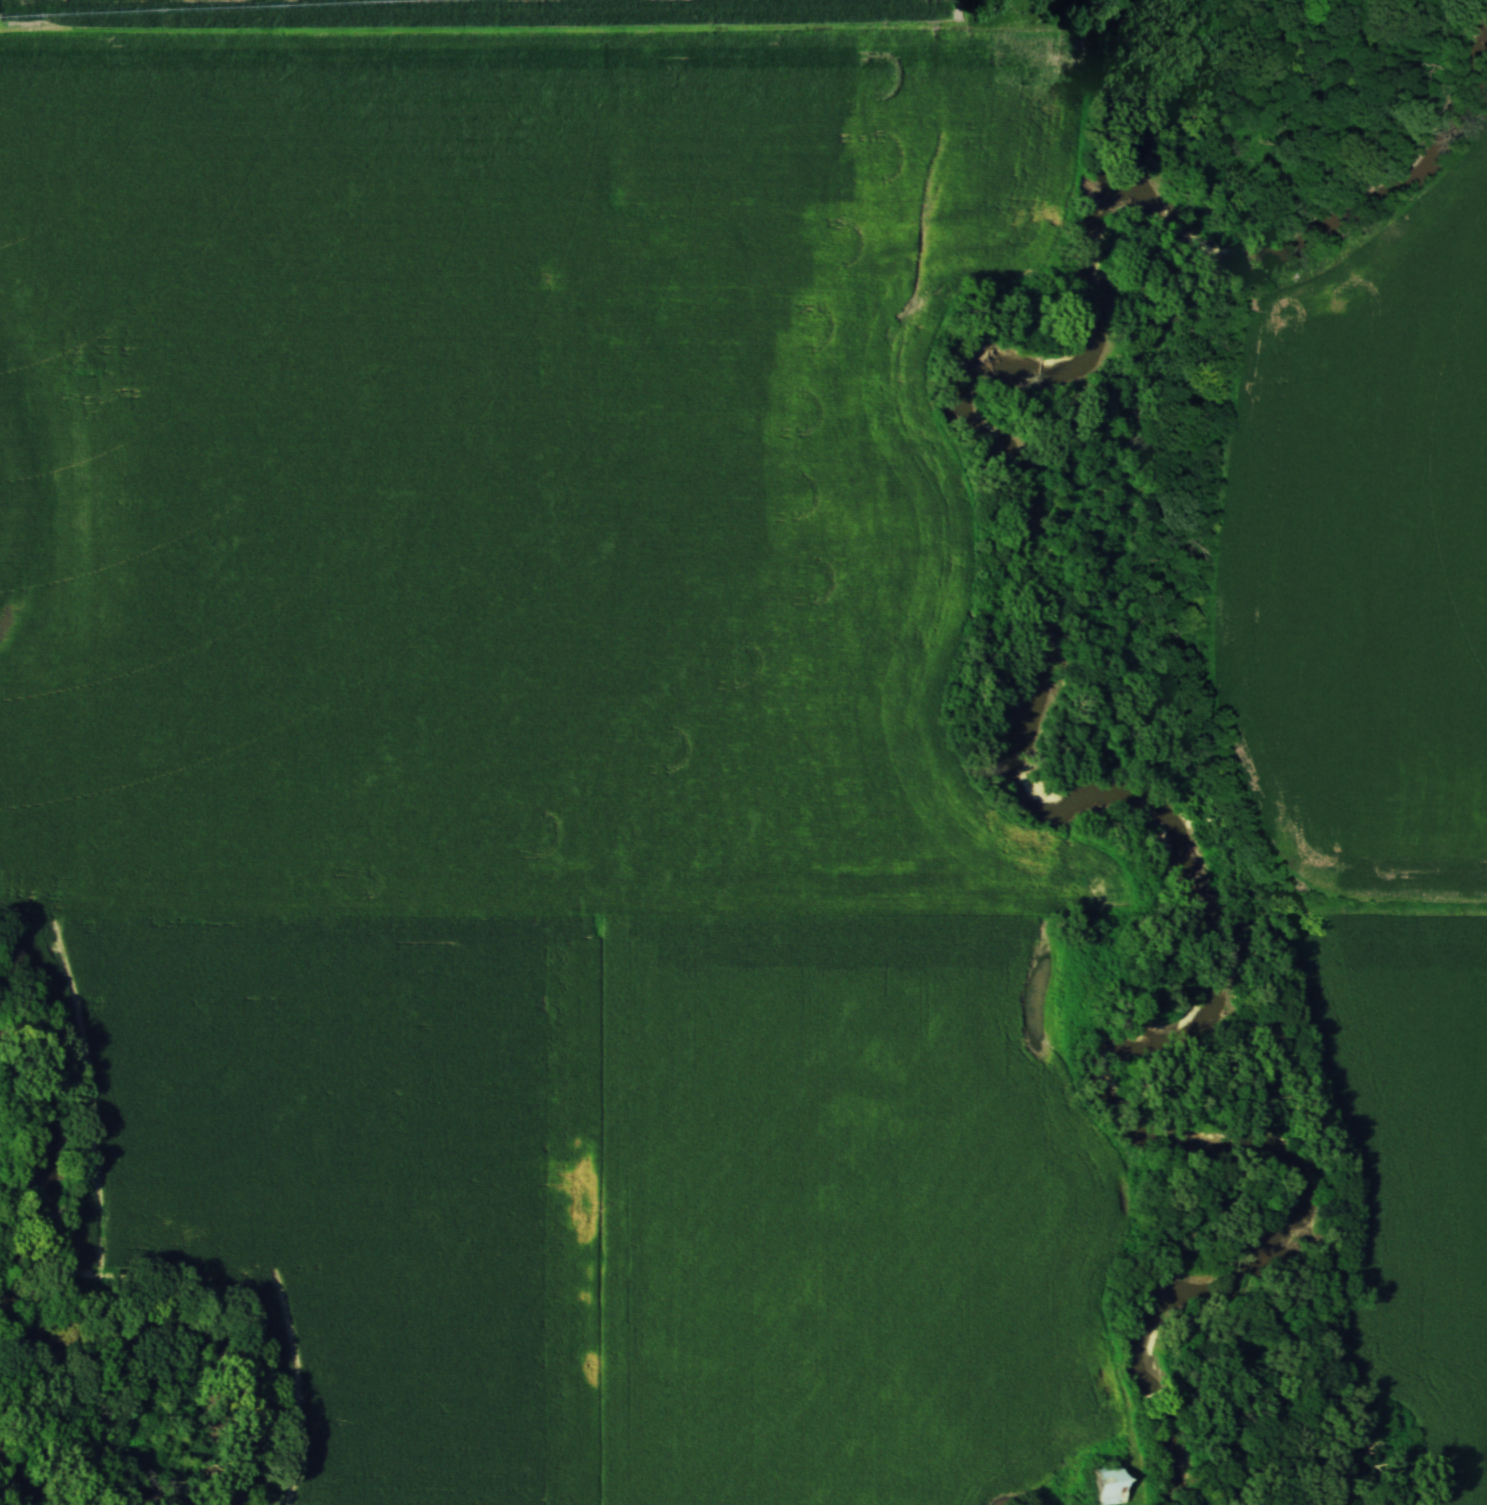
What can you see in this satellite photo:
building: (1106, 1487)

